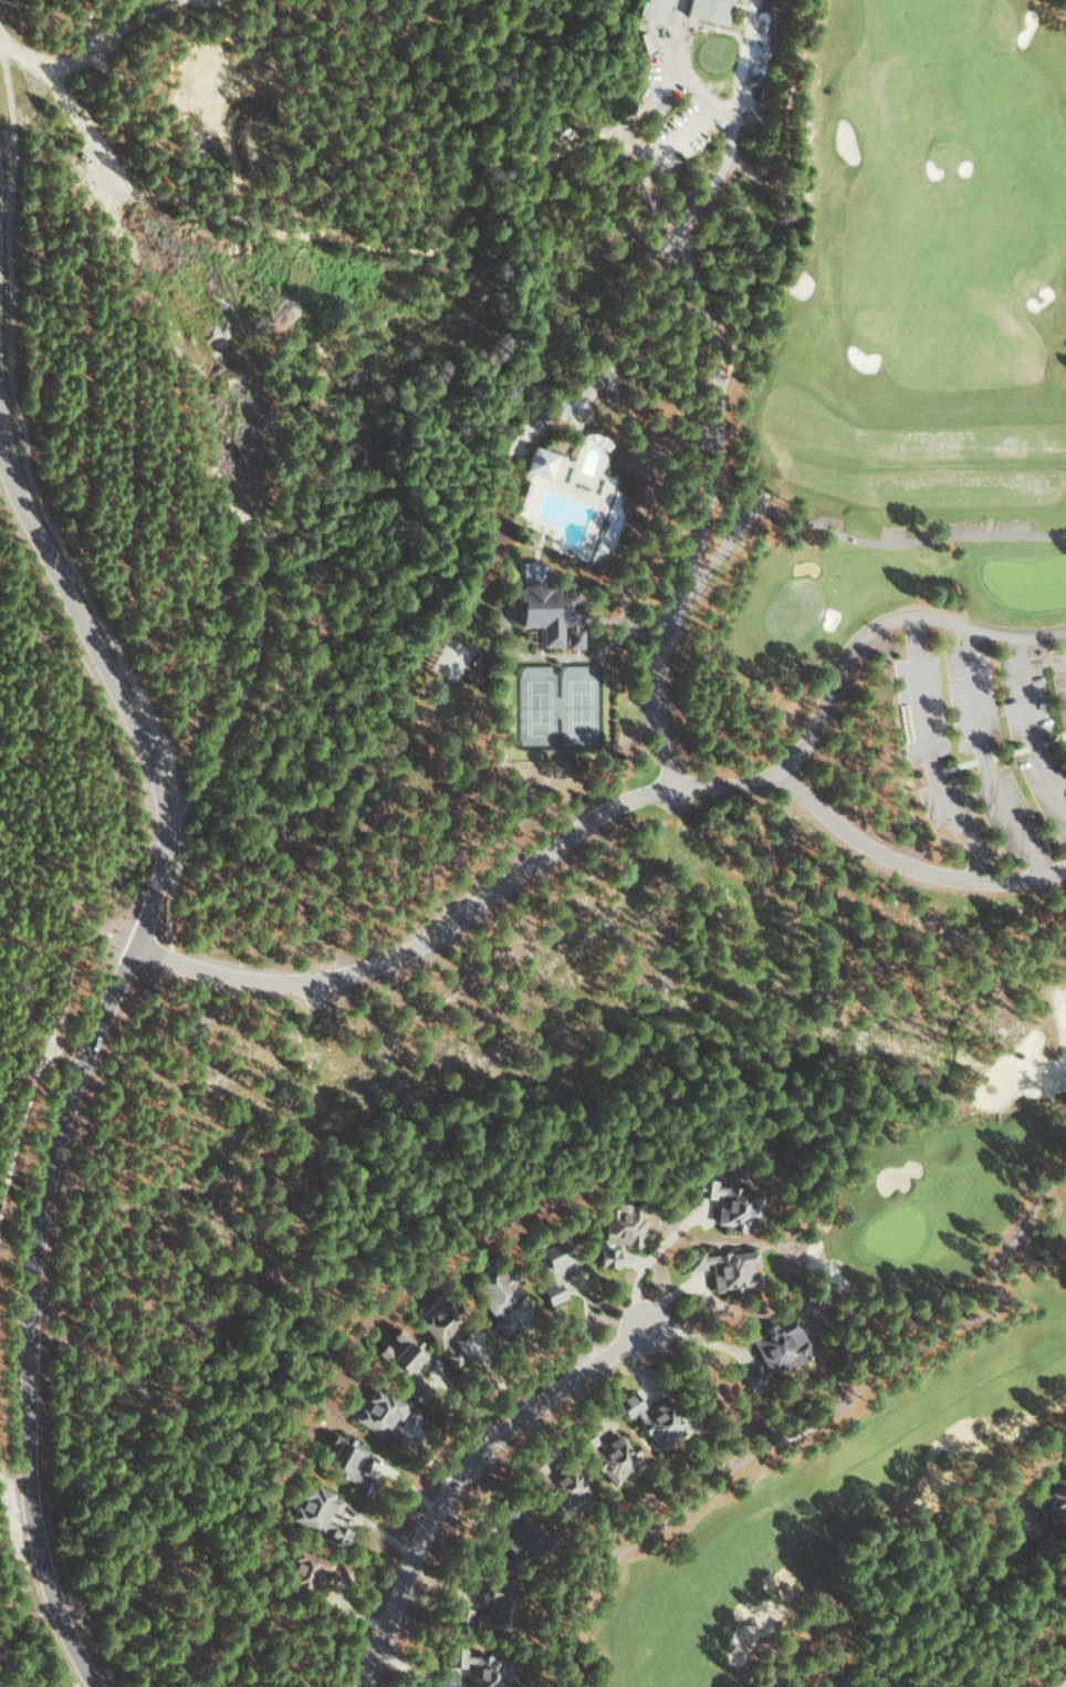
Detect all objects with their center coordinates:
building: (650, 9)
building: (708, 9)
park: (857, 296)
building: (539, 462)
building: (547, 614)
park: (556, 707)
road: (613, 804)
road: (77, 1056)
building: (725, 1202)
building: (621, 1223)
building: (606, 1257)
building: (552, 1263)
building: (724, 1268)
building: (494, 1295)
building: (443, 1331)
building: (775, 1350)
building: (405, 1362)
park: (875, 1373)
building: (380, 1417)
building: (652, 1417)
building: (606, 1454)
building: (345, 1461)
road: (460, 1475)
building: (556, 1482)
building: (1052, 1497)
building: (316, 1511)
building: (522, 1531)
building: (310, 1571)
building: (488, 1611)
building: (1058, 1666)
building: (479, 1667)

